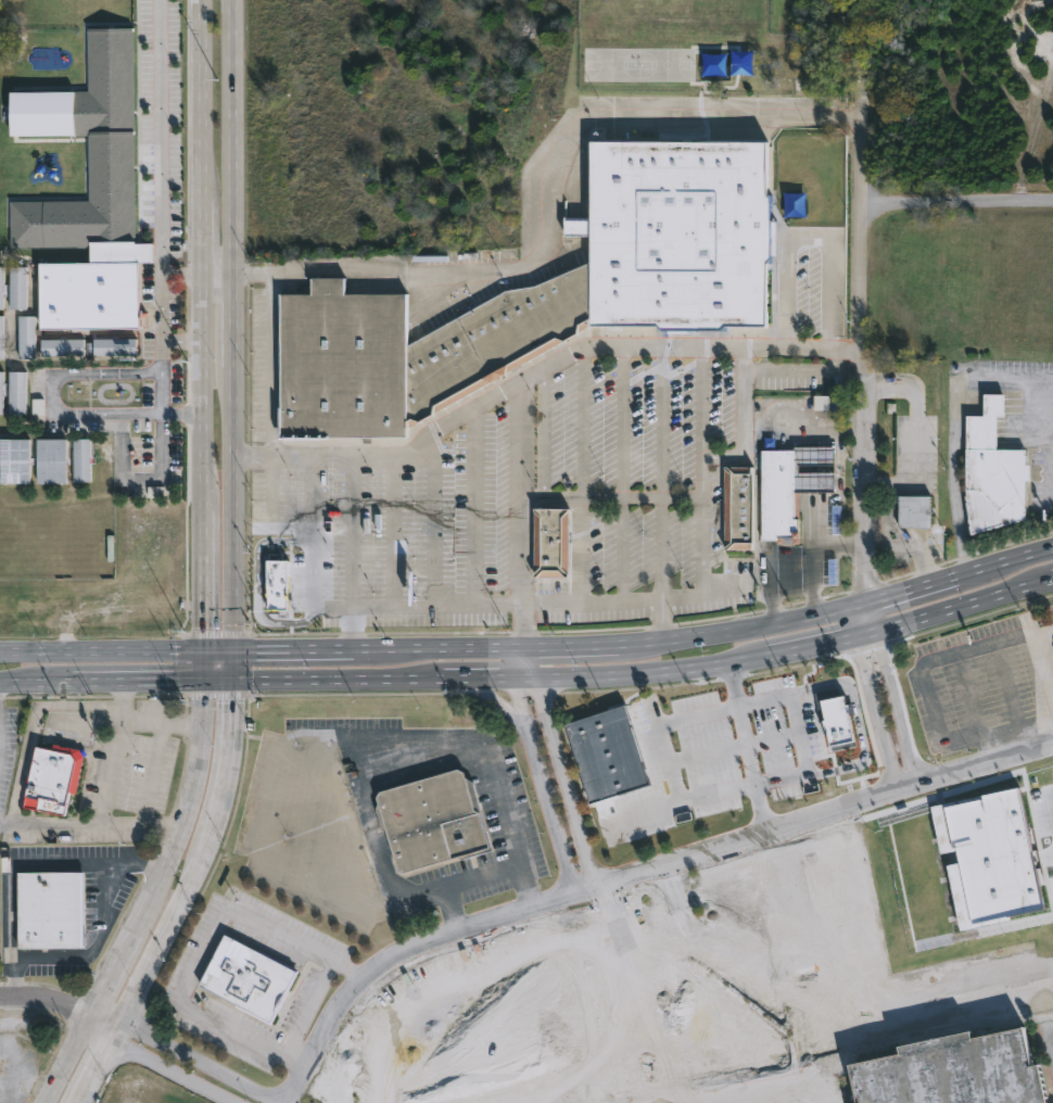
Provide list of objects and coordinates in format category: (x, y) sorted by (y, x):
road: (160, 138)
road: (236, 140)
road: (537, 190)
road: (959, 204)
road: (808, 239)
road: (220, 280)
building: (1, 287)
building: (16, 289)
building: (543, 293)
building: (87, 297)
road: (865, 300)
road: (236, 322)
road: (162, 324)
road: (204, 326)
building: (26, 337)
building: (0, 338)
road: (182, 341)
building: (62, 347)
building: (113, 347)
parking lot: (1026, 360)
road: (797, 369)
road: (538, 371)
road: (1039, 384)
road: (1050, 384)
building: (14, 392)
building: (2, 393)
road: (54, 396)
building: (822, 403)
road: (699, 408)
road: (182, 415)
road: (661, 422)
road: (830, 423)
road: (543, 433)
road: (162, 447)
road: (815, 455)
building: (103, 458)
road: (709, 458)
building: (50, 459)
building: (79, 459)
building: (13, 460)
road: (815, 468)
road: (1050, 470)
road: (957, 471)
building: (993, 471)
road: (623, 473)
road: (584, 474)
road: (815, 481)
road: (876, 482)
road: (902, 482)
building: (790, 486)
road: (518, 494)
road: (622, 497)
road: (473, 507)
building: (738, 507)
road: (232, 508)
building: (914, 510)
road: (432, 519)
road: (394, 531)
road: (312, 532)
road: (351, 532)
building: (550, 541)
road: (661, 549)
road: (814, 553)
road: (783, 554)
road: (1005, 566)
road: (1052, 581)
building: (277, 585)
road: (911, 592)
road: (967, 606)
road: (321, 607)
road: (873, 616)
road: (860, 618)
road: (661, 623)
road: (522, 625)
traffic signals: (206, 627)
road: (351, 629)
road: (870, 629)
road: (740, 632)
road: (812, 643)
road: (570, 647)
road: (439, 649)
road: (292, 650)
road: (102, 651)
road: (218, 651)
traffic signals: (255, 651)
road: (519, 662)
road: (532, 662)
road: (231, 665)
road: (206, 667)
road: (655, 672)
road: (921, 672)
road: (528, 676)
road: (482, 677)
road: (341, 680)
road: (219, 681)
road: (138, 682)
traffic signals: (179, 682)
road: (36, 683)
road: (733, 684)
road: (246, 696)
traffic signals: (231, 703)
road: (740, 706)
road: (904, 707)
road: (877, 713)
road: (858, 720)
road: (143, 721)
building: (838, 723)
road: (229, 746)
road: (747, 746)
road: (1005, 747)
building: (607, 753)
road: (398, 760)
road: (989, 769)
road: (153, 775)
building: (51, 777)
road: (569, 782)
road: (543, 788)
road: (912, 790)
road: (103, 811)
road: (644, 811)
road: (188, 812)
building: (431, 820)
road: (50, 823)
building: (989, 858)
road: (13, 867)
road: (479, 876)
road: (707, 895)
road: (558, 899)
building: (48, 910)
road: (172, 915)
road: (90, 935)
road: (592, 935)
road: (202, 953)
road: (759, 967)
road: (643, 971)
road: (111, 973)
building: (245, 978)
road: (703, 980)
road: (46, 997)
road: (312, 1003)
road: (89, 1014)
road: (110, 1028)
road: (839, 1035)
road: (616, 1041)
road: (66, 1058)
road: (203, 1060)
road: (88, 1072)
road: (166, 1072)
building: (953, 1072)
road: (774, 1098)

